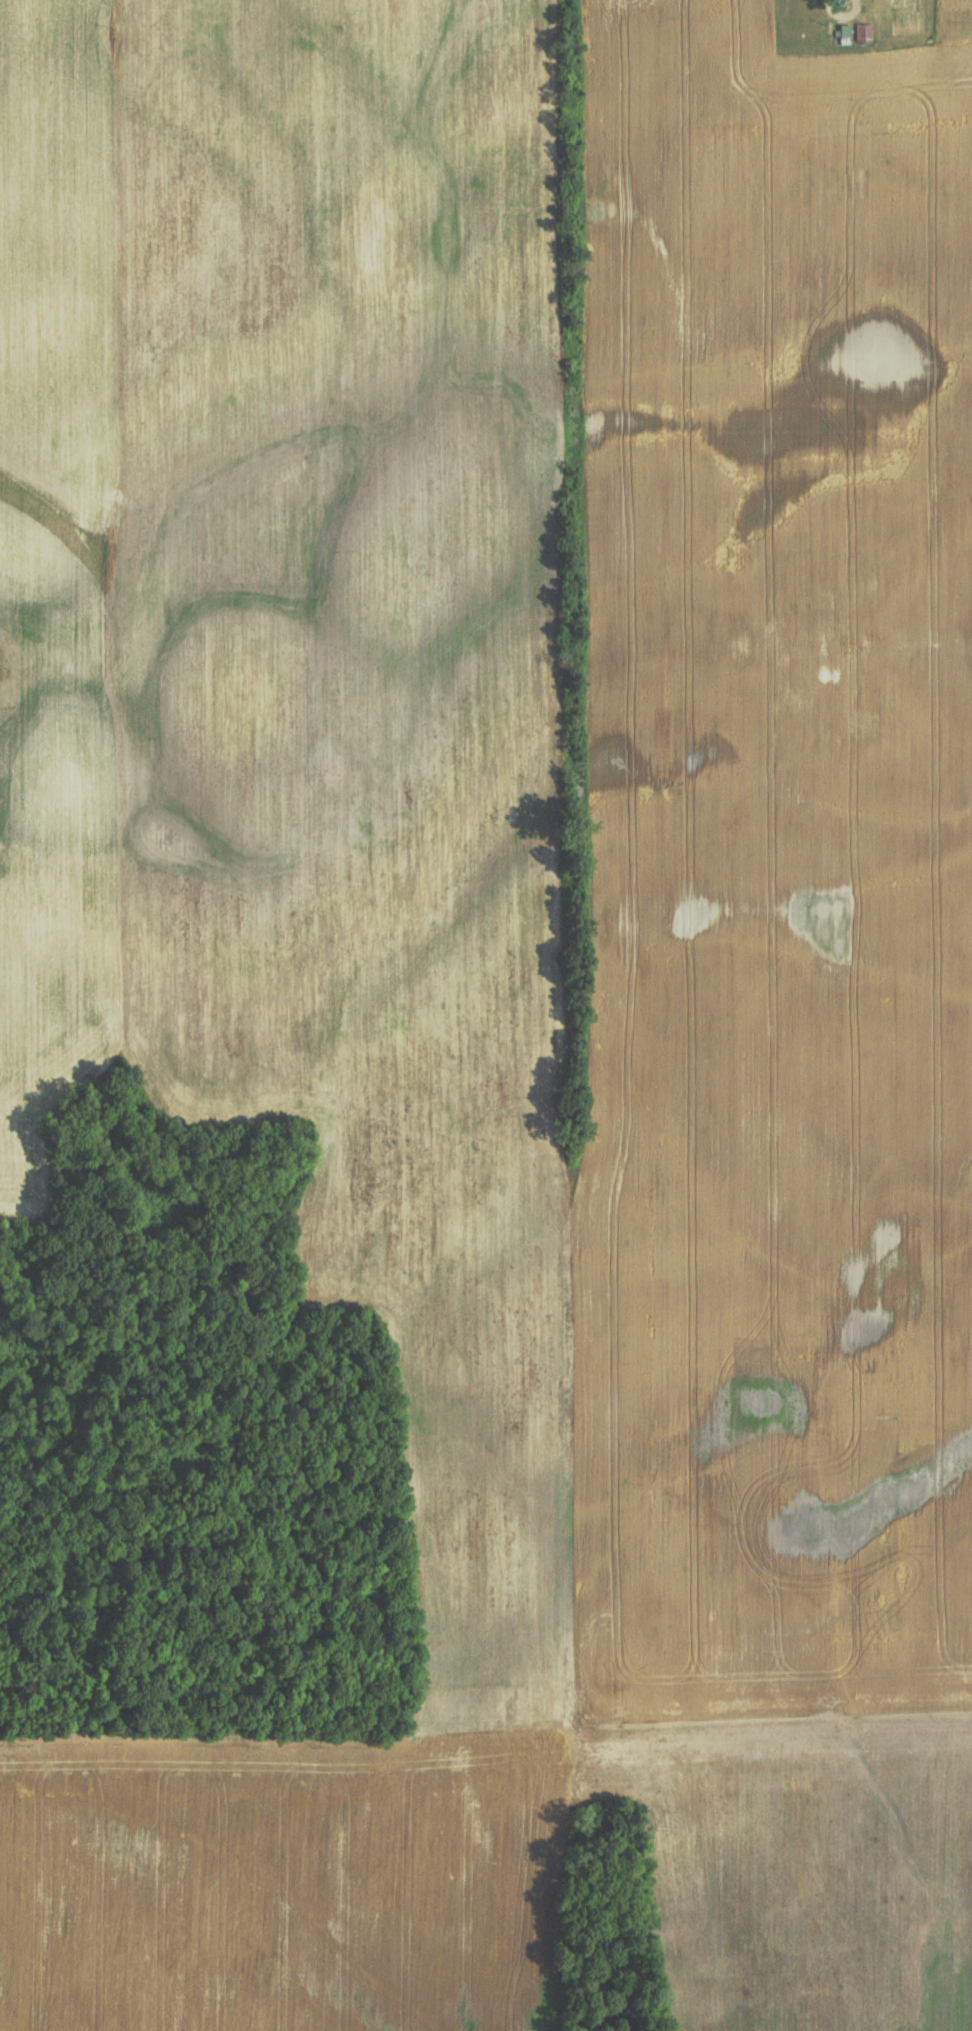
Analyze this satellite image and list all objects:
building: (843, 29)
building: (863, 29)

